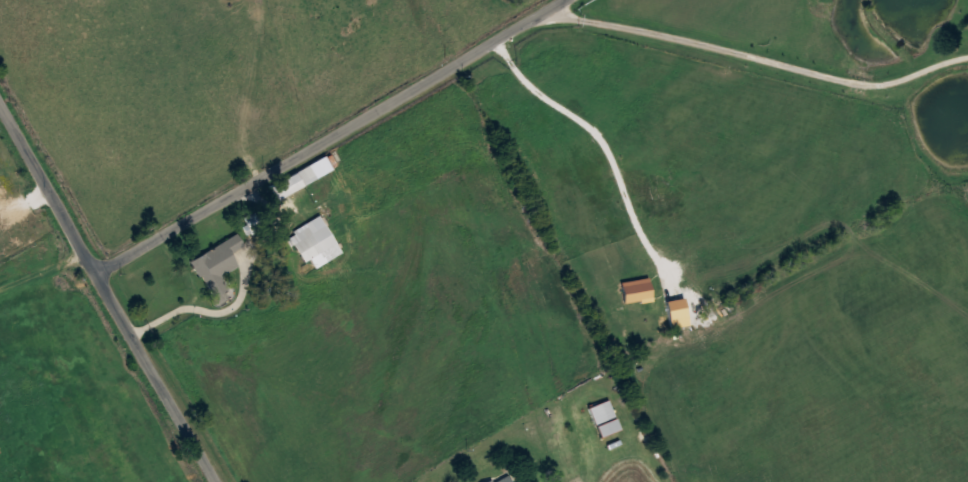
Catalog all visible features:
road: (753, 56)
road: (334, 138)
building: (293, 181)
building: (311, 238)
building: (218, 267)
road: (107, 294)
building: (601, 411)
building: (502, 479)

